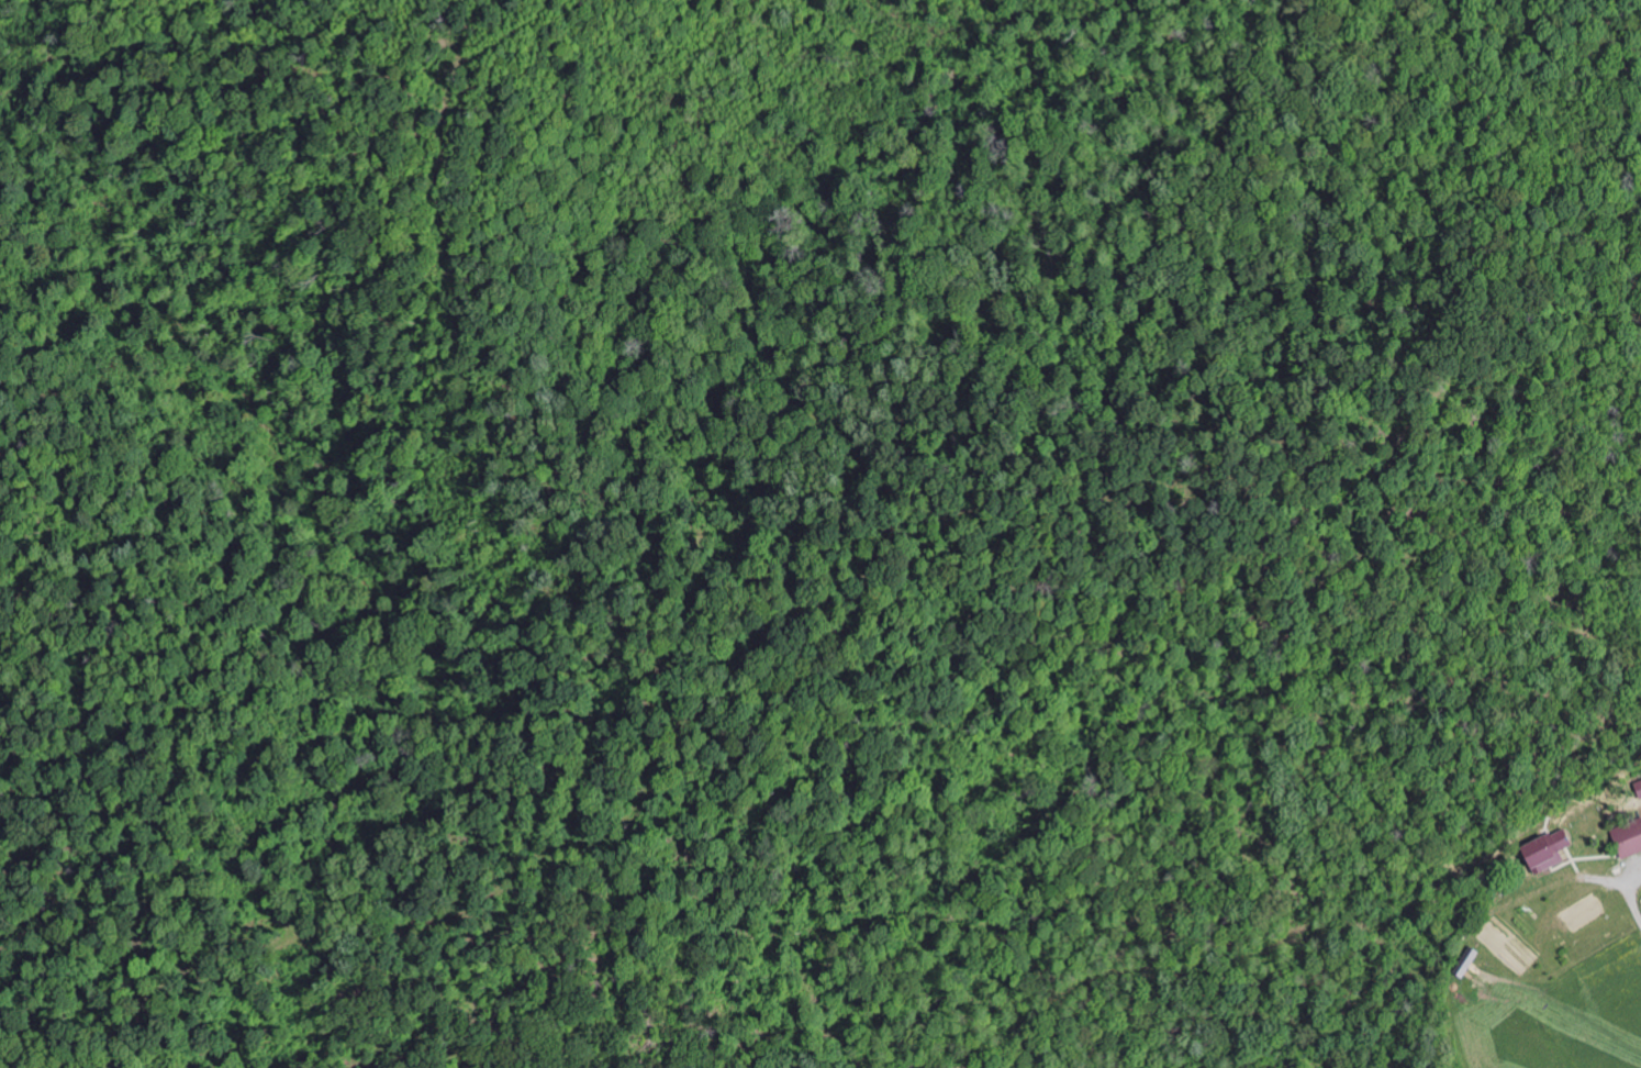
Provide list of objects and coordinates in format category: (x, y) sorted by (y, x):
building: (1629, 839)
building: (1551, 850)
road: (1636, 910)
building: (1461, 967)

